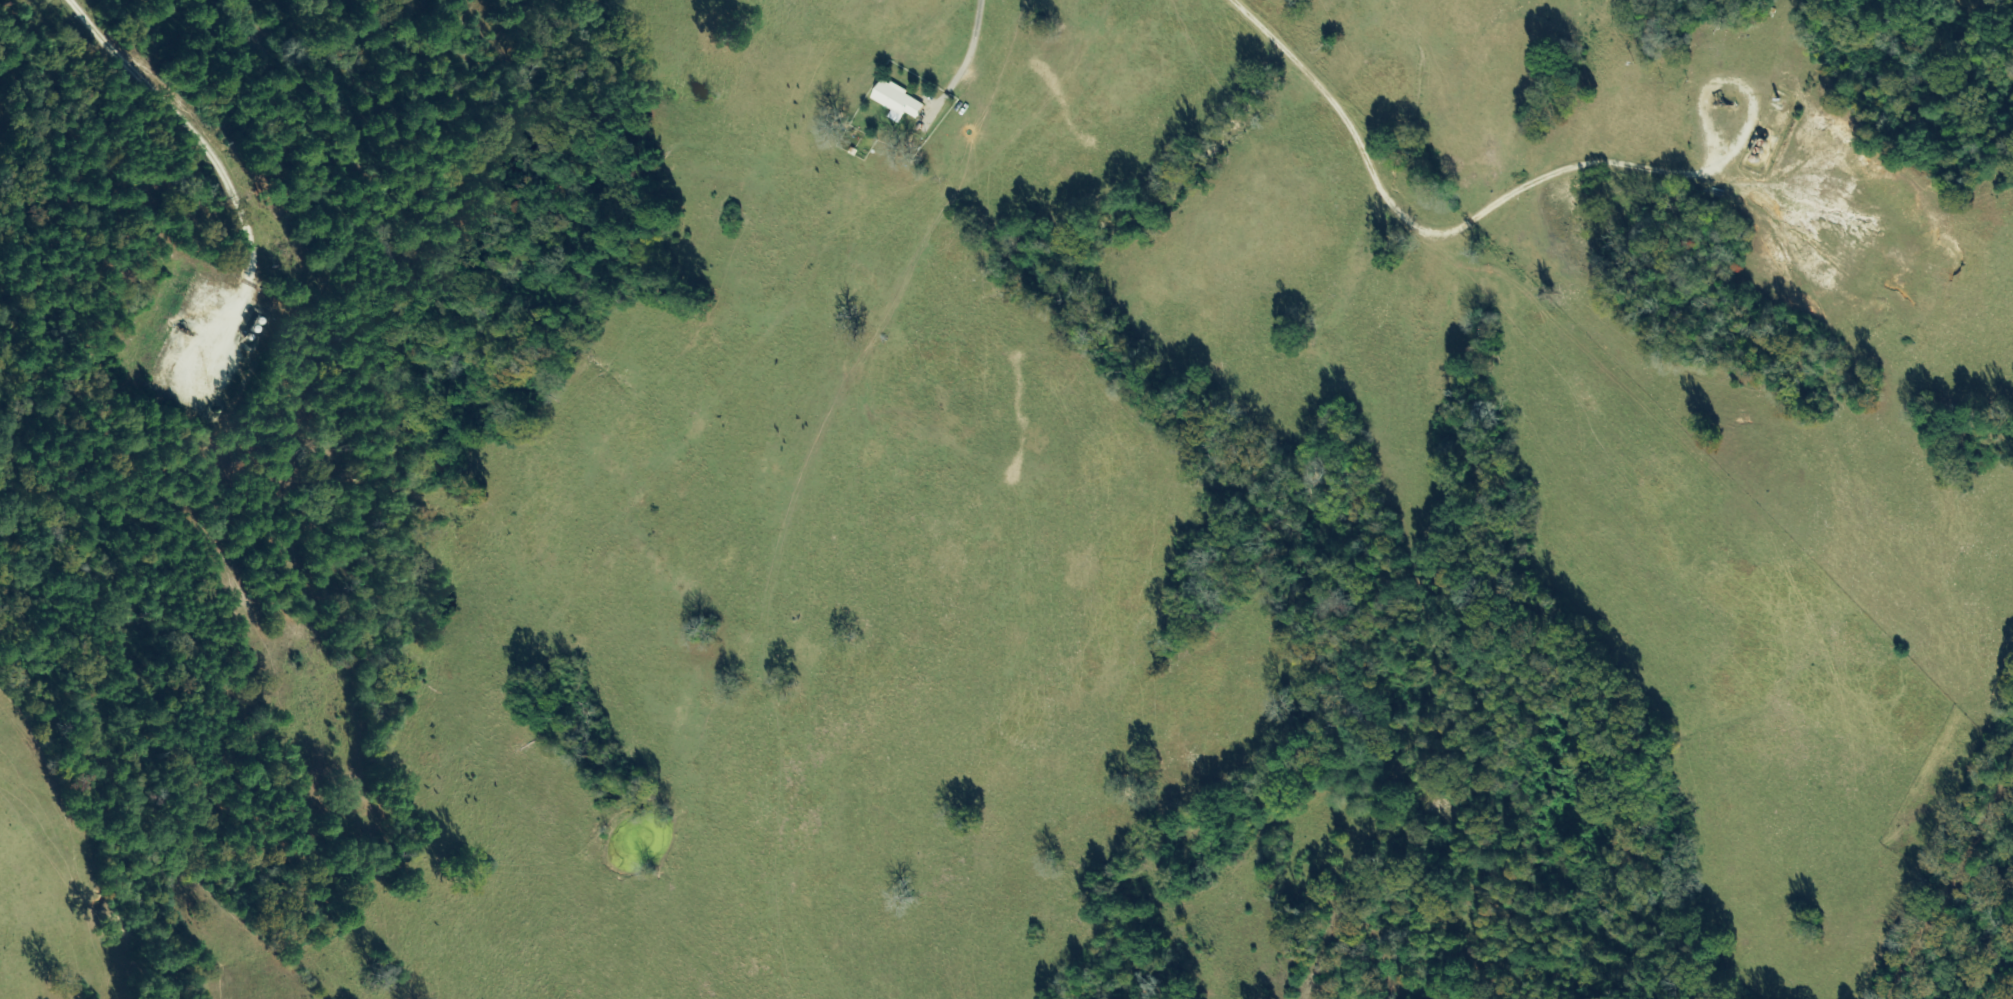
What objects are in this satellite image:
building: (895, 102)
petroleum well: (1722, 103)
petroleum well: (182, 334)
road: (824, 560)
road: (1949, 819)

